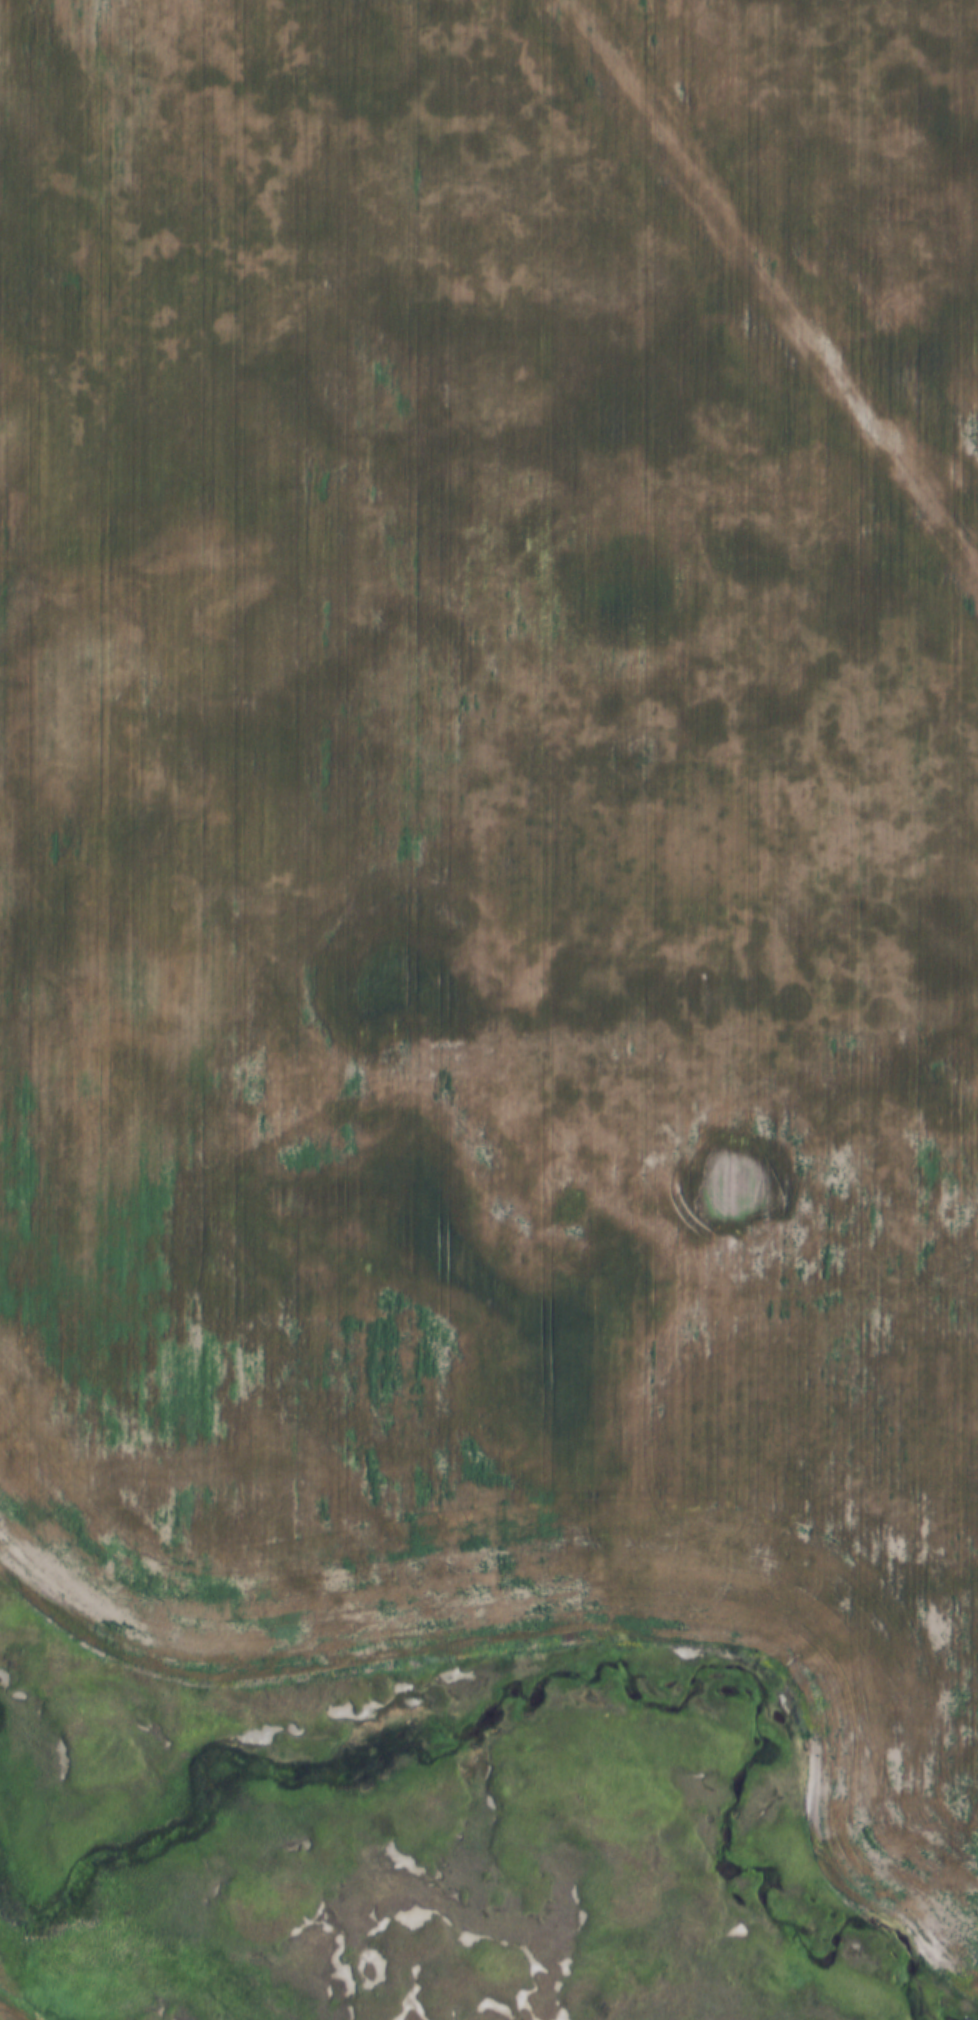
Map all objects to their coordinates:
road: (769, 292)

